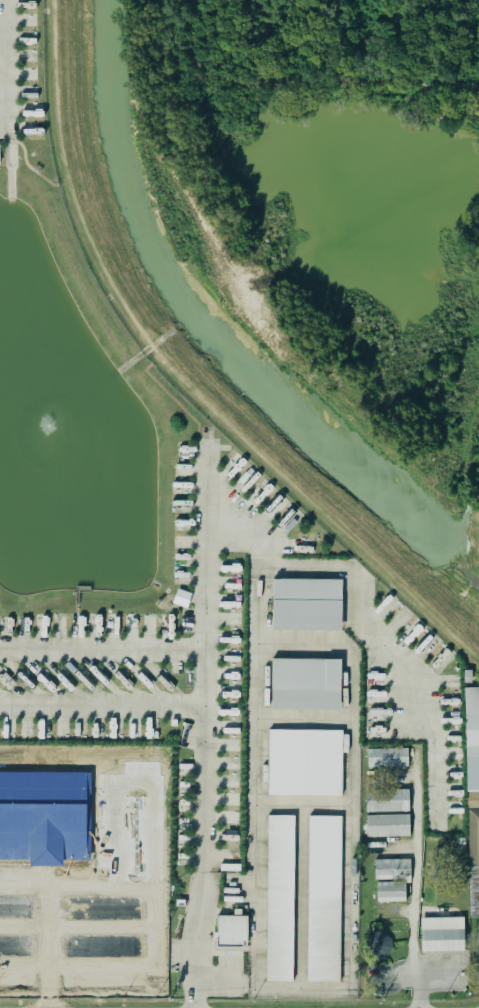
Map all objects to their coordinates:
road: (5, 66)
building: (181, 597)
building: (307, 603)
road: (100, 648)
road: (387, 650)
building: (306, 682)
road: (100, 704)
building: (472, 745)
building: (387, 756)
building: (304, 762)
road: (117, 782)
building: (387, 799)
road: (257, 805)
building: (45, 813)
building: (388, 825)
building: (473, 860)
building: (392, 868)
road: (135, 885)
road: (412, 889)
building: (390, 891)
building: (279, 896)
building: (323, 898)
road: (48, 924)
road: (77, 925)
building: (232, 932)
building: (441, 934)
building: (378, 944)
road: (194, 945)
road: (24, 964)
road: (100, 965)
road: (48, 986)

